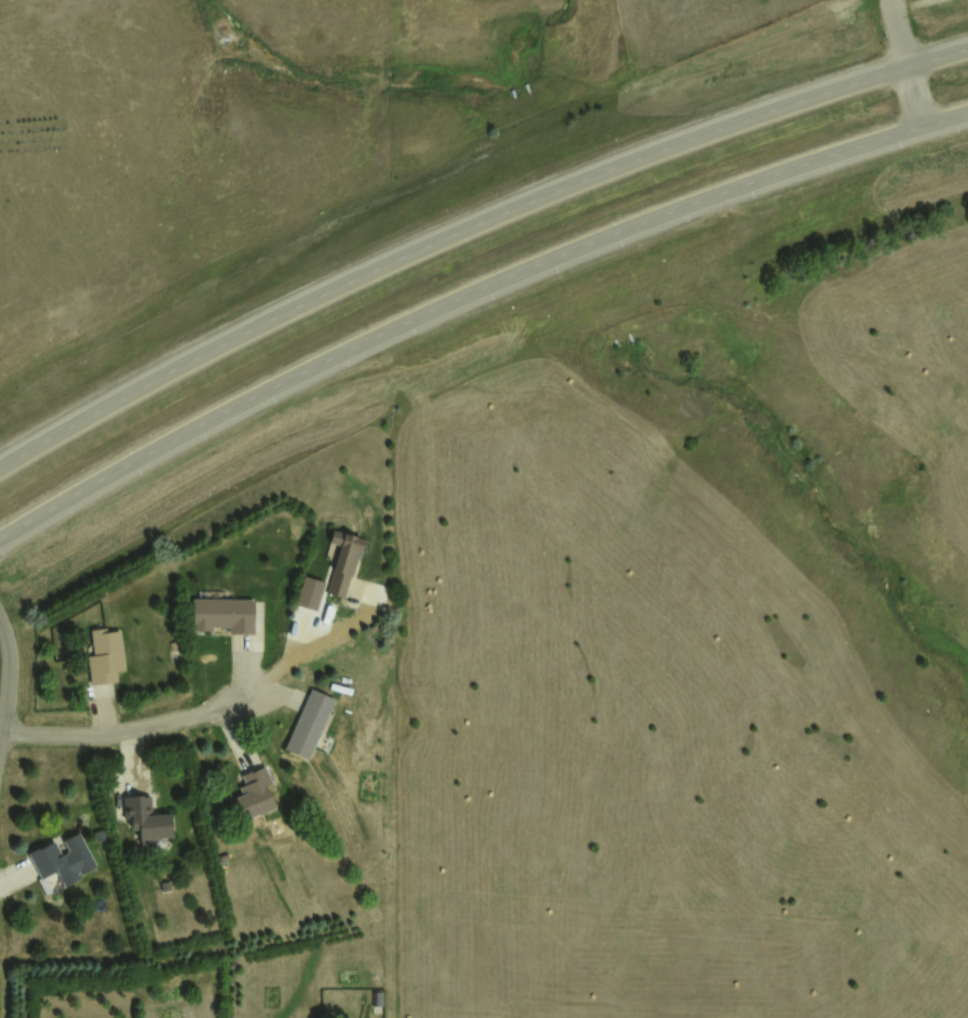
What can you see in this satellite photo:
road: (907, 61)
road: (469, 225)
road: (470, 297)
building: (341, 560)
building: (308, 592)
building: (222, 614)
building: (105, 661)
road: (15, 715)
building: (308, 723)
road: (120, 734)
building: (253, 792)
building: (145, 820)
building: (60, 859)
building: (376, 998)

